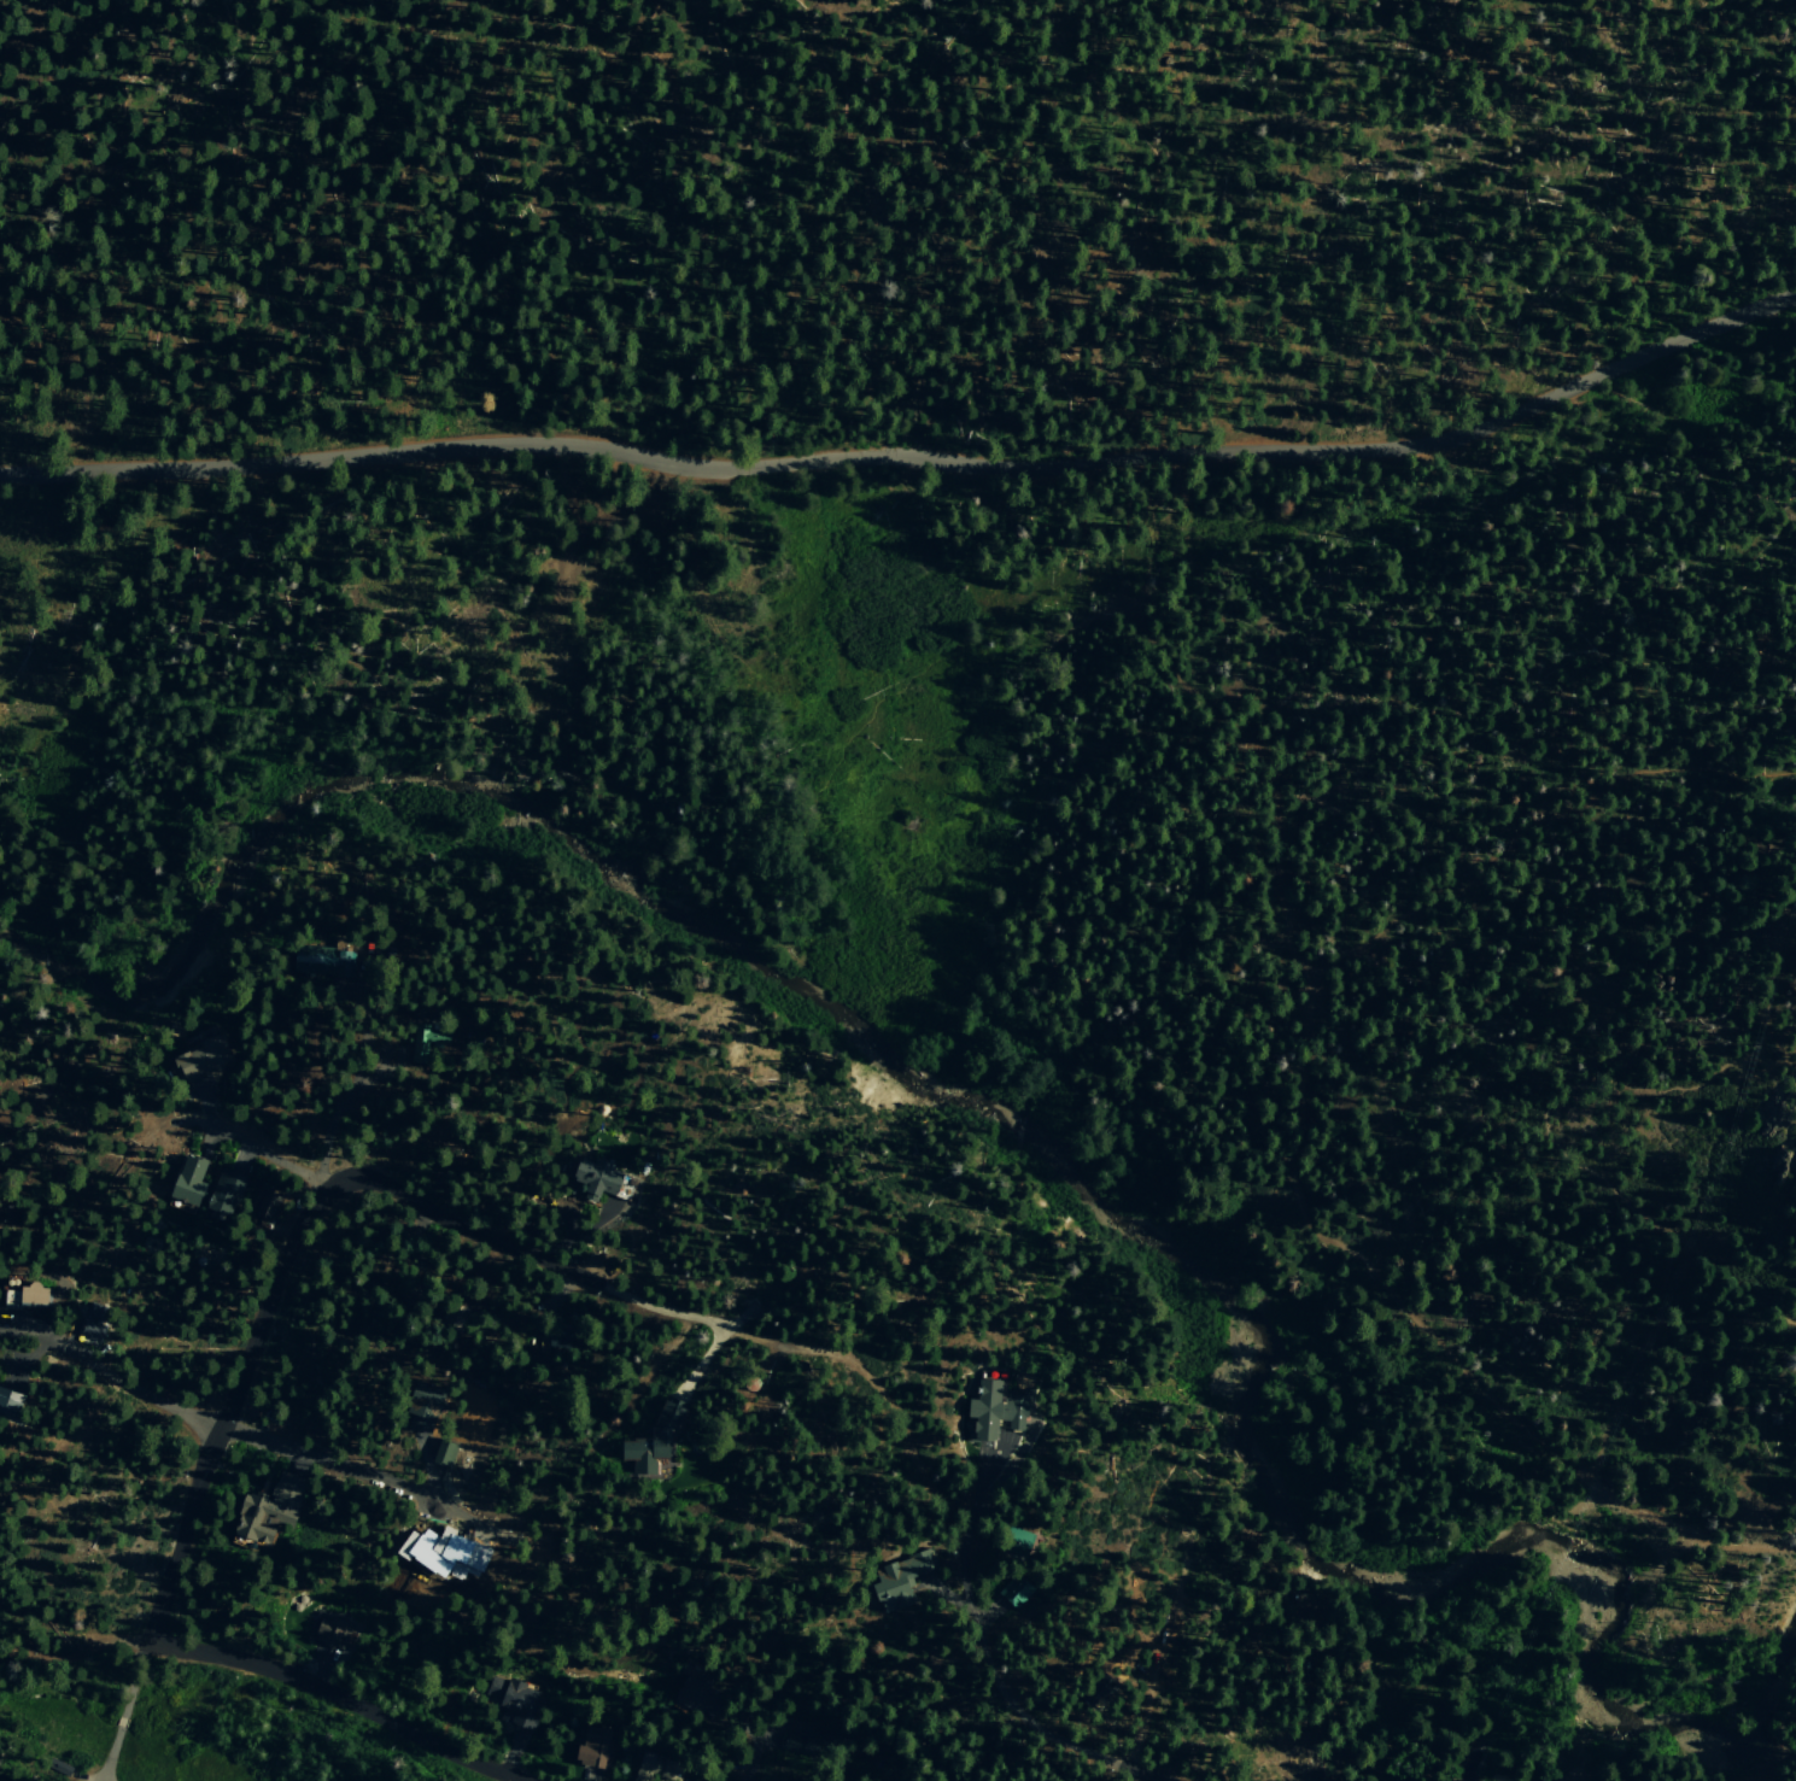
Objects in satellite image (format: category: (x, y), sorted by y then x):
road: (909, 452)
road: (1149, 521)
road: (1528, 814)
road: (1066, 901)
building: (321, 961)
road: (1665, 966)
building: (1291, 971)
road: (358, 1013)
building: (425, 1035)
building: (201, 1056)
road: (373, 1061)
road: (330, 1127)
road: (1558, 1142)
road: (269, 1156)
building: (186, 1179)
building: (598, 1179)
road: (1300, 1182)
building: (223, 1191)
building: (270, 1206)
road: (458, 1221)
road: (571, 1231)
road: (415, 1246)
road: (451, 1255)
building: (17, 1290)
building: (404, 1306)
road: (659, 1308)
building: (454, 1318)
building: (87, 1320)
road: (21, 1322)
building: (555, 1335)
road: (28, 1348)
road: (127, 1385)
building: (6, 1399)
road: (884, 1402)
building: (417, 1405)
building: (993, 1407)
road: (226, 1411)
building: (644, 1436)
building: (440, 1452)
road: (326, 1459)
road: (975, 1504)
building: (265, 1510)
road: (462, 1518)
building: (1014, 1541)
building: (897, 1578)
building: (1013, 1590)
road: (949, 1594)
road: (987, 1615)
building: (328, 1631)
road: (76, 1646)
building: (1310, 1664)
road: (1163, 1666)
road: (134, 1676)
building: (1093, 1687)
road: (339, 1697)
building: (695, 1699)
building: (513, 1700)
road: (1023, 1715)
road: (1333, 1720)
road: (121, 1722)
road: (1112, 1736)
building: (829, 1740)
building: (590, 1745)
road: (111, 1753)
road: (755, 1756)
building: (57, 1767)
building: (655, 1767)
road: (1130, 1776)
road: (1041, 1777)
building: (1019, 1780)
building: (1330, 1780)

